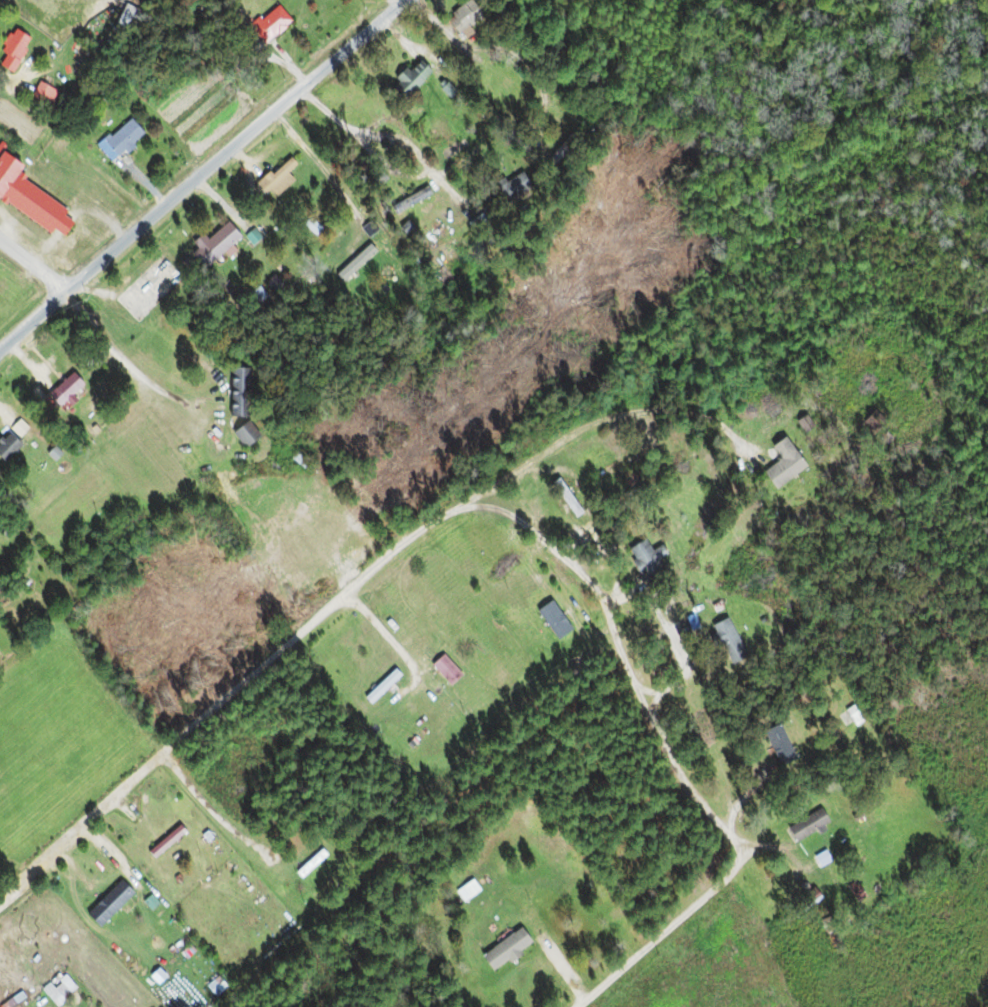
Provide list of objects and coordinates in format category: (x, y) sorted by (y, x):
building: (461, 20)
building: (122, 22)
building: (267, 26)
building: (11, 51)
building: (405, 81)
building: (41, 95)
building: (117, 141)
road: (234, 146)
building: (559, 154)
building: (275, 179)
building: (498, 193)
building: (28, 200)
building: (213, 245)
road: (31, 269)
building: (437, 277)
road: (31, 320)
building: (63, 391)
building: (235, 394)
road: (603, 417)
building: (242, 434)
building: (6, 447)
building: (780, 463)
building: (563, 497)
road: (504, 510)
building: (644, 560)
building: (26, 590)
building: (724, 639)
building: (776, 744)
building: (805, 825)
building: (164, 841)
road: (108, 856)
building: (309, 864)
building: (108, 903)
building: (504, 949)
building: (58, 989)

